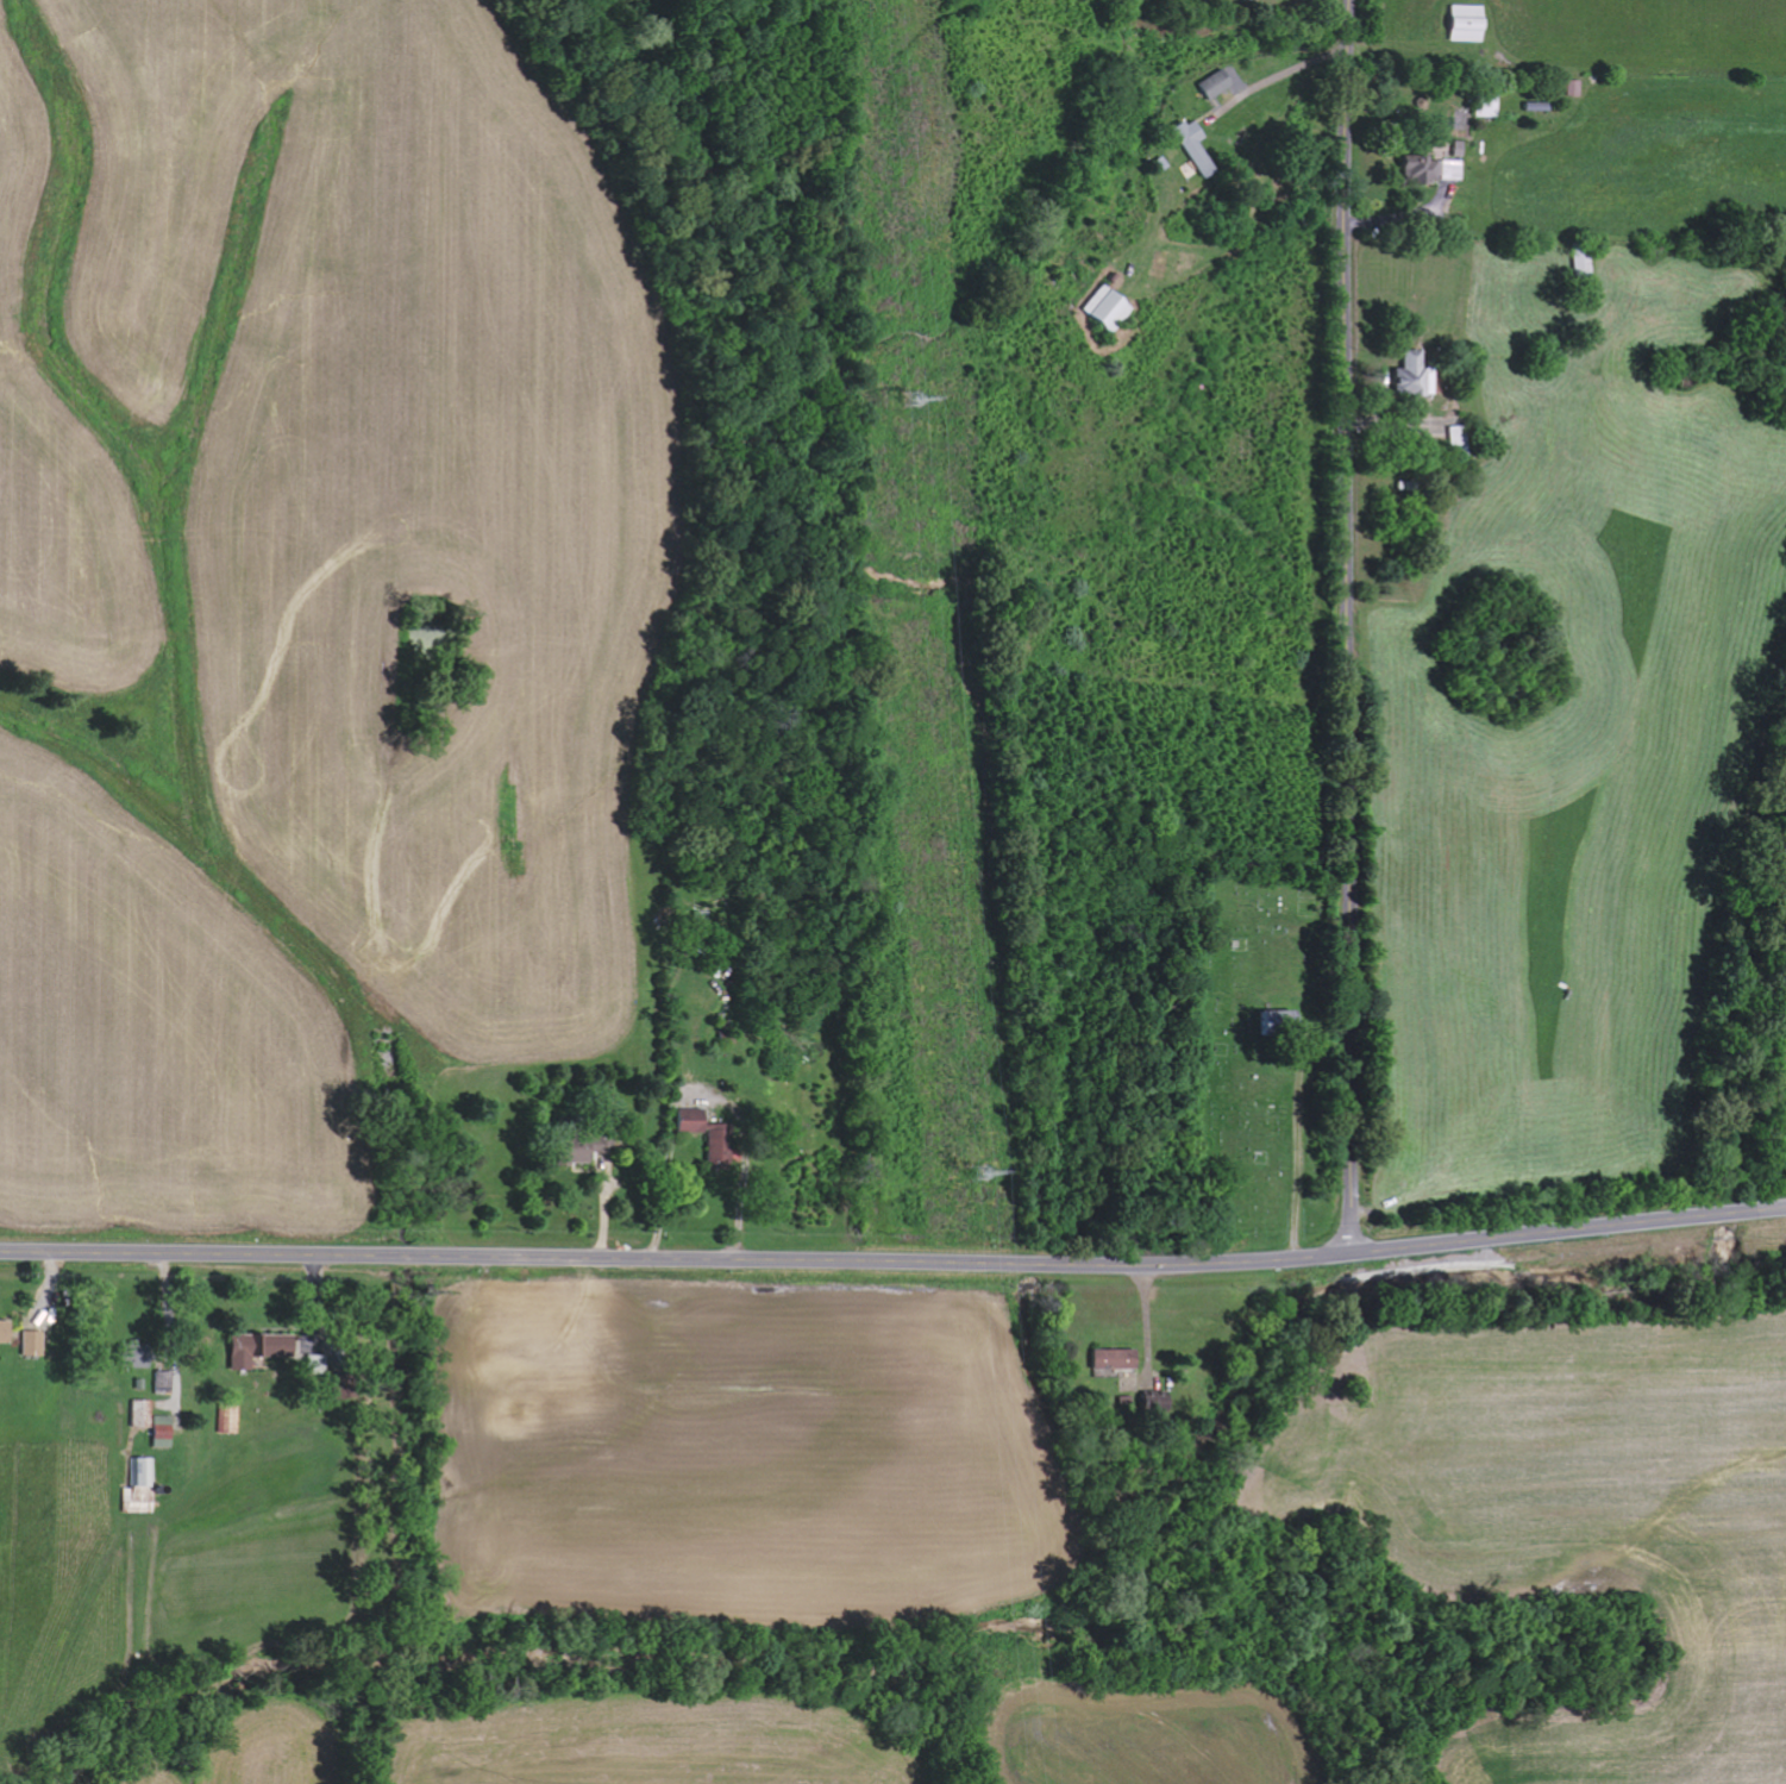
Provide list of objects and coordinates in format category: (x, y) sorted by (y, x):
building: (1460, 24)
building: (1209, 86)
building: (1483, 106)
building: (1425, 170)
building: (1577, 269)
building: (1403, 377)
power tower: (915, 398)
road: (1347, 625)
building: (1267, 1020)
park: (1258, 1053)
building: (682, 1121)
building: (562, 1156)
power tower: (980, 1176)
road: (1568, 1227)
road: (676, 1258)
building: (5, 1334)
building: (36, 1345)
building: (247, 1350)
building: (1107, 1359)
building: (1145, 1403)
building: (134, 1410)

